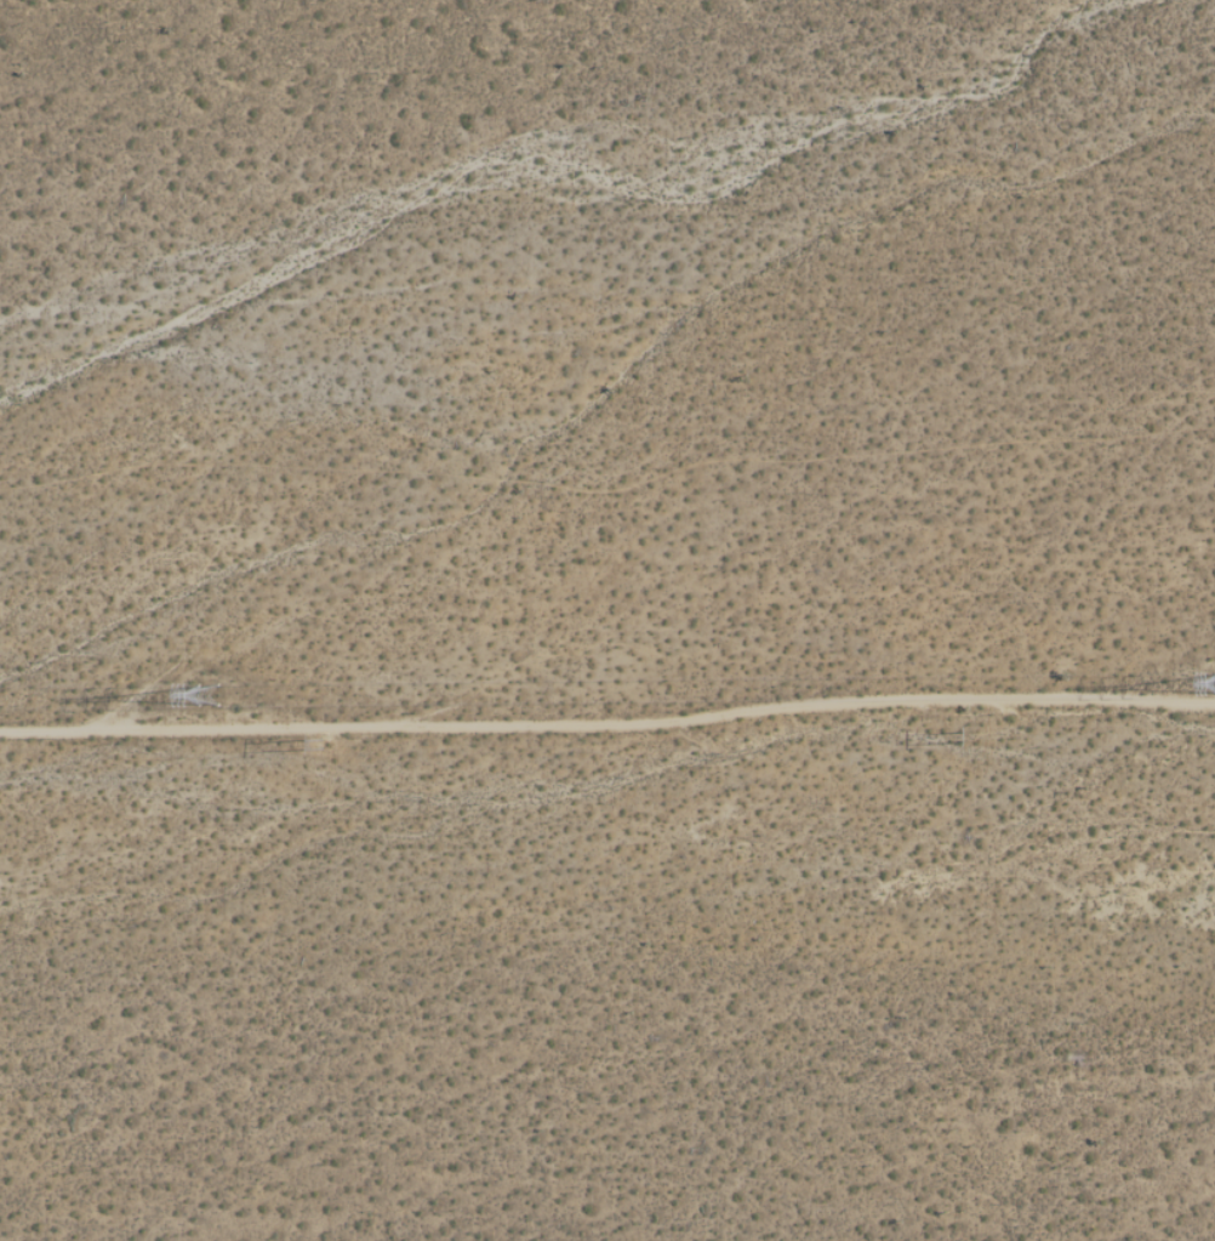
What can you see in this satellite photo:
power tower: (223, 702)
power tower: (964, 734)
power tower: (313, 747)

